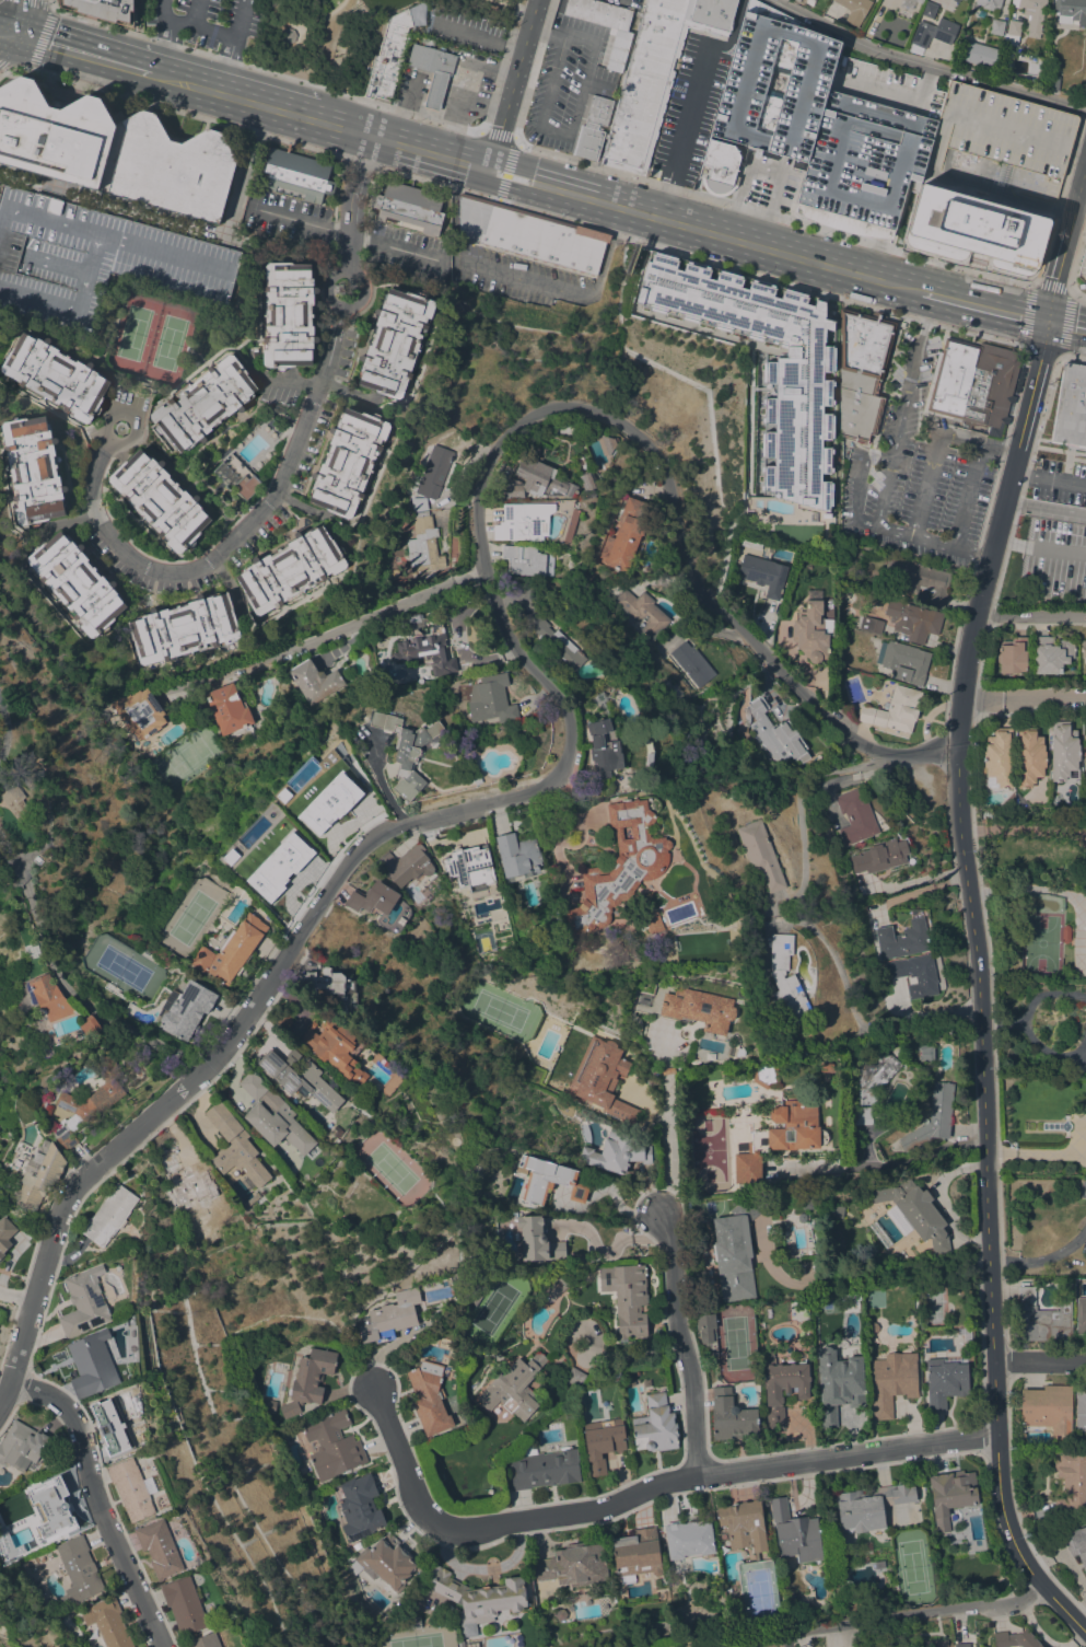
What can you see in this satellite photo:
building: (797, 0)
building: (958, 0)
building: (809, 1)
building: (918, 1)
building: (955, 1)
building: (989, 3)
building: (909, 4)
park: (483, 8)
building: (490, 8)
building: (104, 9)
building: (929, 9)
building: (854, 10)
building: (1071, 11)
building: (1032, 14)
road: (13, 15)
road: (179, 24)
road: (43, 25)
building: (607, 25)
road: (199, 26)
building: (996, 27)
road: (4, 28)
road: (235, 30)
traffic signals: (9, 31)
road: (311, 33)
building: (933, 33)
building: (1013, 33)
road: (4, 36)
road: (560, 36)
road: (167, 37)
park: (325, 38)
road: (79, 50)
building: (977, 54)
building: (387, 56)
road: (926, 63)
road: (4, 66)
road: (259, 68)
road: (533, 68)
road: (4, 71)
building: (432, 71)
building: (655, 74)
road: (223, 76)
road: (551, 80)
building: (1051, 82)
road: (512, 83)
building: (775, 85)
road: (493, 89)
road: (232, 95)
road: (576, 104)
building: (593, 128)
road: (684, 132)
road: (495, 135)
building: (114, 151)
building: (744, 160)
road: (244, 164)
building: (863, 164)
building: (720, 165)
road: (762, 169)
building: (297, 175)
building: (991, 178)
road: (1059, 197)
road: (622, 205)
road: (517, 206)
road: (117, 208)
building: (409, 208)
road: (771, 214)
building: (529, 234)
road: (351, 235)
road: (1064, 241)
road: (1076, 256)
building: (93, 263)
building: (1082, 266)
road: (521, 277)
road: (1034, 286)
building: (338, 289)
road: (1076, 292)
road: (988, 306)
building: (288, 315)
traffic signals: (1047, 321)
road: (1065, 325)
building: (395, 341)
road: (1072, 357)
building: (766, 364)
building: (862, 372)
building: (56, 376)
building: (951, 376)
building: (990, 390)
building: (205, 403)
road: (902, 408)
building: (1071, 408)
building: (575, 430)
building: (608, 443)
road: (934, 448)
road: (1031, 448)
road: (1002, 451)
building: (348, 462)
building: (33, 469)
building: (434, 472)
road: (281, 473)
building: (238, 476)
road: (1049, 479)
building: (587, 480)
building: (537, 482)
road: (967, 497)
building: (160, 499)
building: (419, 503)
road: (1044, 508)
building: (524, 521)
road: (67, 522)
road: (880, 526)
building: (624, 535)
building: (454, 544)
road: (1039, 547)
building: (418, 550)
building: (657, 558)
building: (524, 559)
building: (290, 569)
building: (762, 571)
building: (921, 579)
building: (77, 583)
building: (396, 590)
building: (642, 612)
road: (1031, 613)
building: (913, 620)
building: (410, 622)
building: (871, 625)
building: (184, 628)
road: (334, 631)
building: (810, 631)
building: (558, 645)
building: (425, 649)
building: (1084, 649)
building: (1050, 654)
building: (1012, 656)
building: (903, 661)
building: (692, 663)
building: (314, 681)
road: (1024, 695)
building: (491, 699)
building: (227, 708)
building: (895, 710)
building: (140, 712)
road: (569, 715)
road: (3, 730)
building: (774, 734)
building: (604, 747)
building: (406, 751)
building: (1063, 752)
building: (1085, 752)
building: (999, 758)
building: (1029, 758)
building: (326, 759)
road: (803, 788)
building: (591, 791)
building: (576, 792)
building: (329, 803)
building: (17, 807)
building: (855, 816)
building: (1084, 819)
building: (760, 855)
building: (294, 856)
building: (517, 856)
building: (880, 856)
building: (406, 865)
building: (619, 866)
building: (468, 869)
road: (1030, 886)
building: (372, 898)
building: (652, 924)
building: (1065, 933)
building: (902, 939)
building: (231, 950)
building: (914, 974)
road: (62, 982)
building: (786, 983)
road: (980, 983)
building: (326, 984)
building: (49, 997)
building: (643, 1000)
building: (699, 1008)
building: (185, 1009)
building: (282, 1018)
building: (91, 1027)
building: (335, 1047)
building: (925, 1053)
building: (826, 1067)
building: (667, 1070)
building: (764, 1072)
building: (874, 1077)
building: (603, 1078)
building: (301, 1081)
building: (253, 1085)
building: (86, 1105)
building: (861, 1115)
building: (933, 1117)
building: (278, 1122)
building: (779, 1138)
building: (235, 1148)
road: (1037, 1151)
building: (615, 1152)
road: (669, 1153)
road: (879, 1165)
building: (39, 1175)
building: (548, 1181)
building: (188, 1182)
building: (837, 1210)
building: (913, 1213)
building: (109, 1215)
building: (5, 1234)
building: (880, 1234)
road: (610, 1236)
building: (536, 1240)
building: (735, 1249)
road: (1042, 1259)
road: (666, 1261)
building: (556, 1287)
building: (475, 1294)
road: (15, 1296)
building: (627, 1297)
building: (84, 1303)
building: (389, 1317)
building: (1081, 1317)
building: (1042, 1319)
building: (873, 1327)
building: (707, 1331)
building: (965, 1333)
road: (1038, 1359)
building: (92, 1364)
building: (312, 1375)
building: (574, 1377)
building: (945, 1380)
building: (892, 1381)
building: (838, 1384)
building: (514, 1387)
building: (782, 1387)
road: (692, 1391)
building: (429, 1397)
building: (268, 1406)
building: (1048, 1408)
building: (289, 1410)
building: (1081, 1411)
building: (731, 1415)
building: (655, 1425)
building: (113, 1427)
building: (602, 1442)
building: (332, 1443)
building: (22, 1446)
building: (545, 1470)
building: (1071, 1481)
building: (131, 1489)
building: (950, 1495)
road: (643, 1496)
road: (105, 1500)
building: (359, 1506)
building: (869, 1506)
building: (52, 1509)
building: (744, 1524)
building: (795, 1532)
building: (689, 1539)
building: (1077, 1543)
building: (159, 1549)
building: (637, 1553)
building: (385, 1562)
building: (574, 1565)
building: (78, 1571)
building: (735, 1590)
building: (475, 1597)
building: (184, 1605)
building: (738, 1608)
building: (107, 1622)
building: (411, 1622)
road: (898, 1625)
building: (1015, 1639)
building: (205, 1640)
building: (935, 1643)
road: (786, 1644)
building: (960, 1646)

